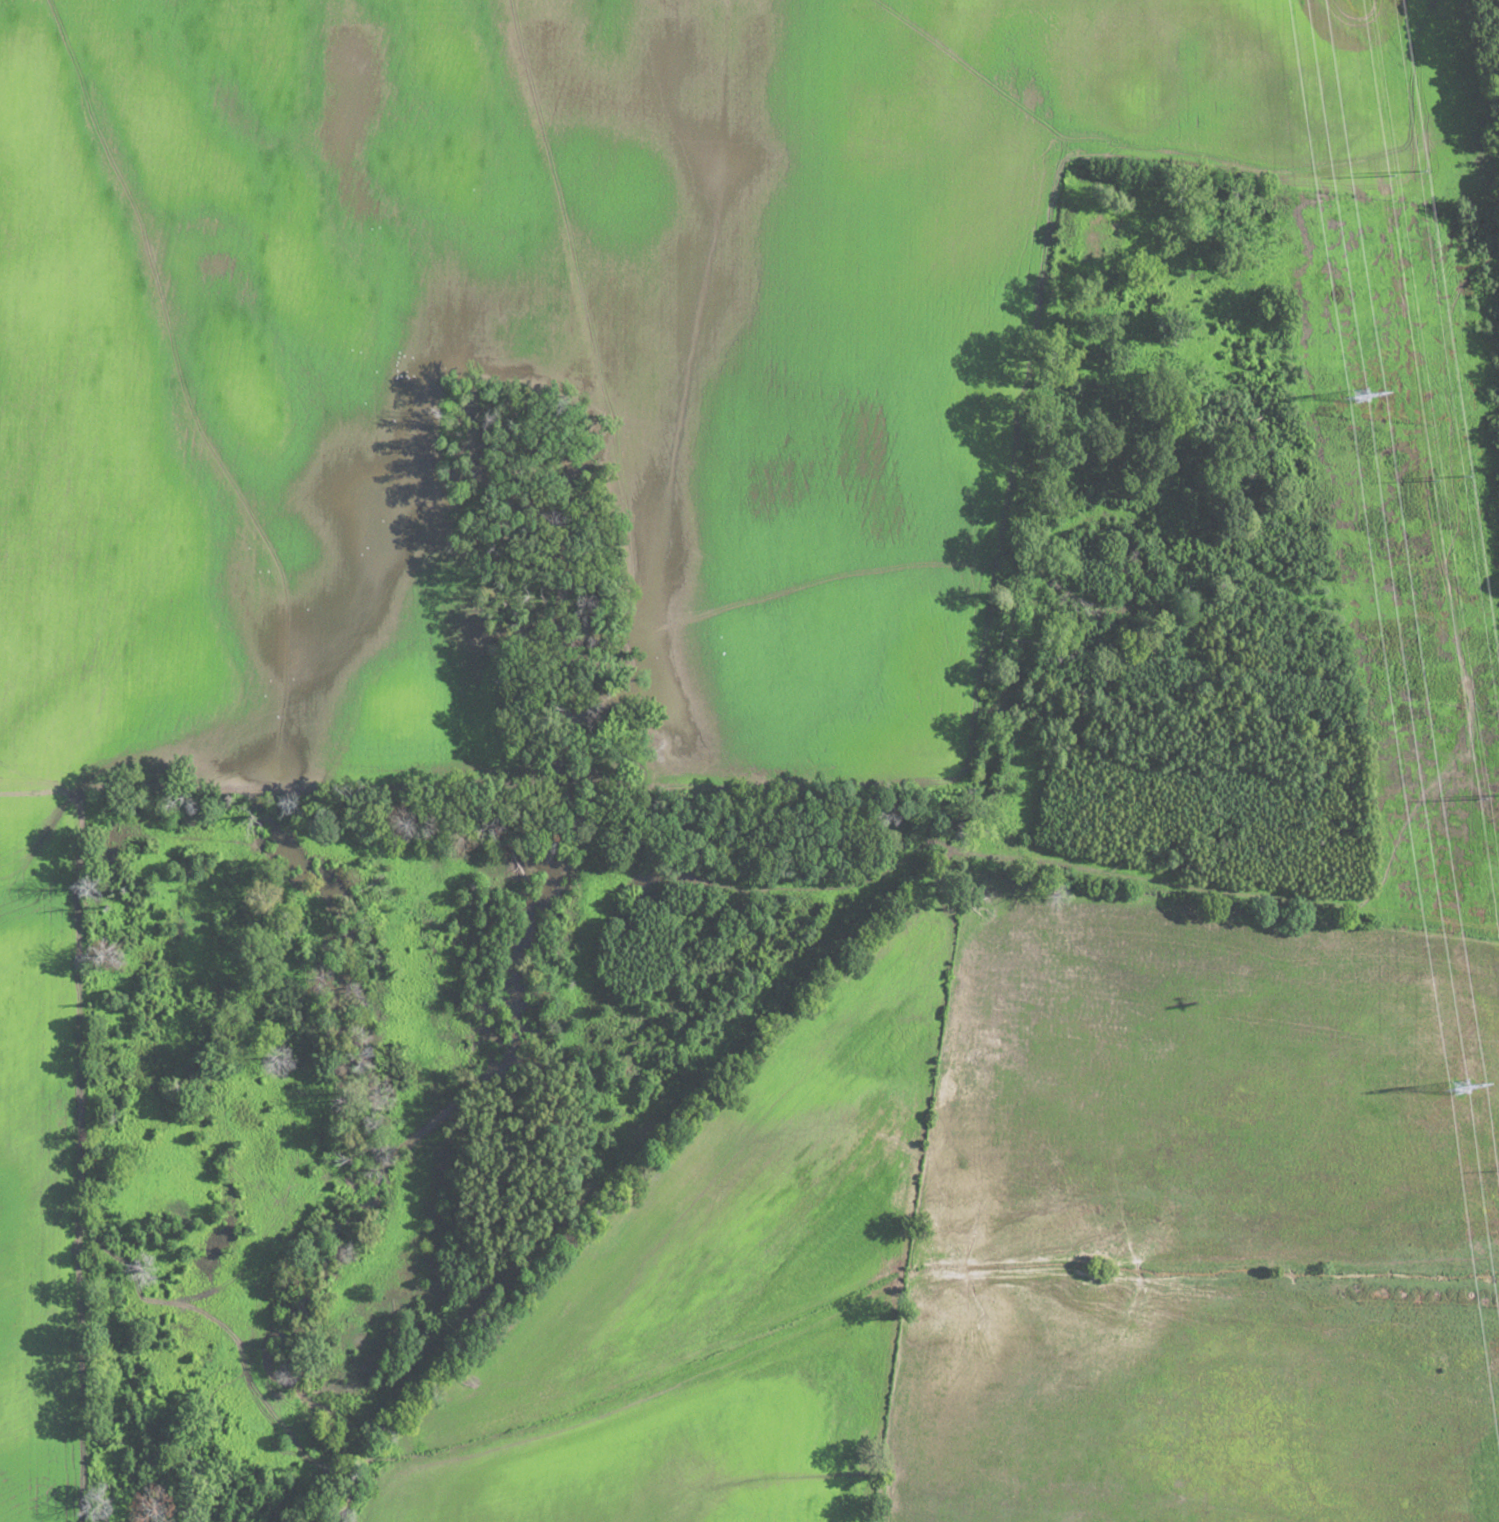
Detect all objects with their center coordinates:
power tower: (1401, 175)
power tower: (1362, 396)
power tower: (1446, 479)
power tower: (1492, 797)
power tower: (1461, 1089)

